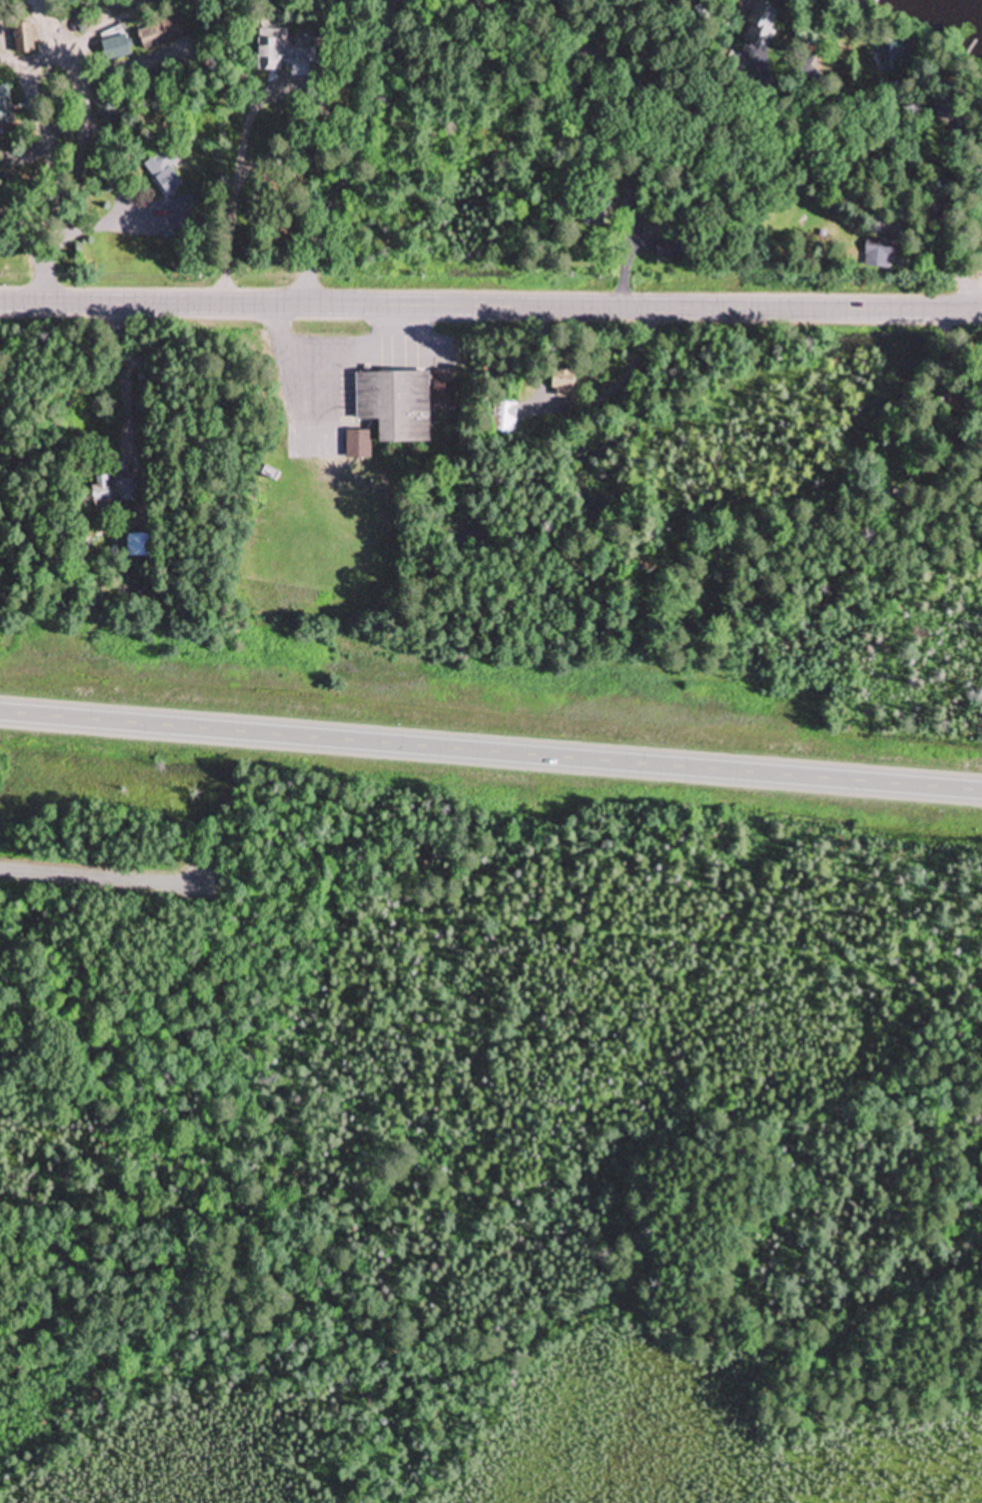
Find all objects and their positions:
building: (762, 26)
building: (162, 32)
building: (25, 39)
building: (116, 50)
building: (283, 50)
building: (104, 101)
building: (4, 110)
building: (950, 114)
road: (741, 136)
road: (355, 154)
building: (166, 170)
building: (880, 254)
road: (490, 307)
building: (564, 385)
building: (444, 392)
building: (396, 406)
building: (504, 418)
building: (358, 446)
building: (114, 491)
building: (140, 546)
road: (491, 752)
road: (96, 880)

